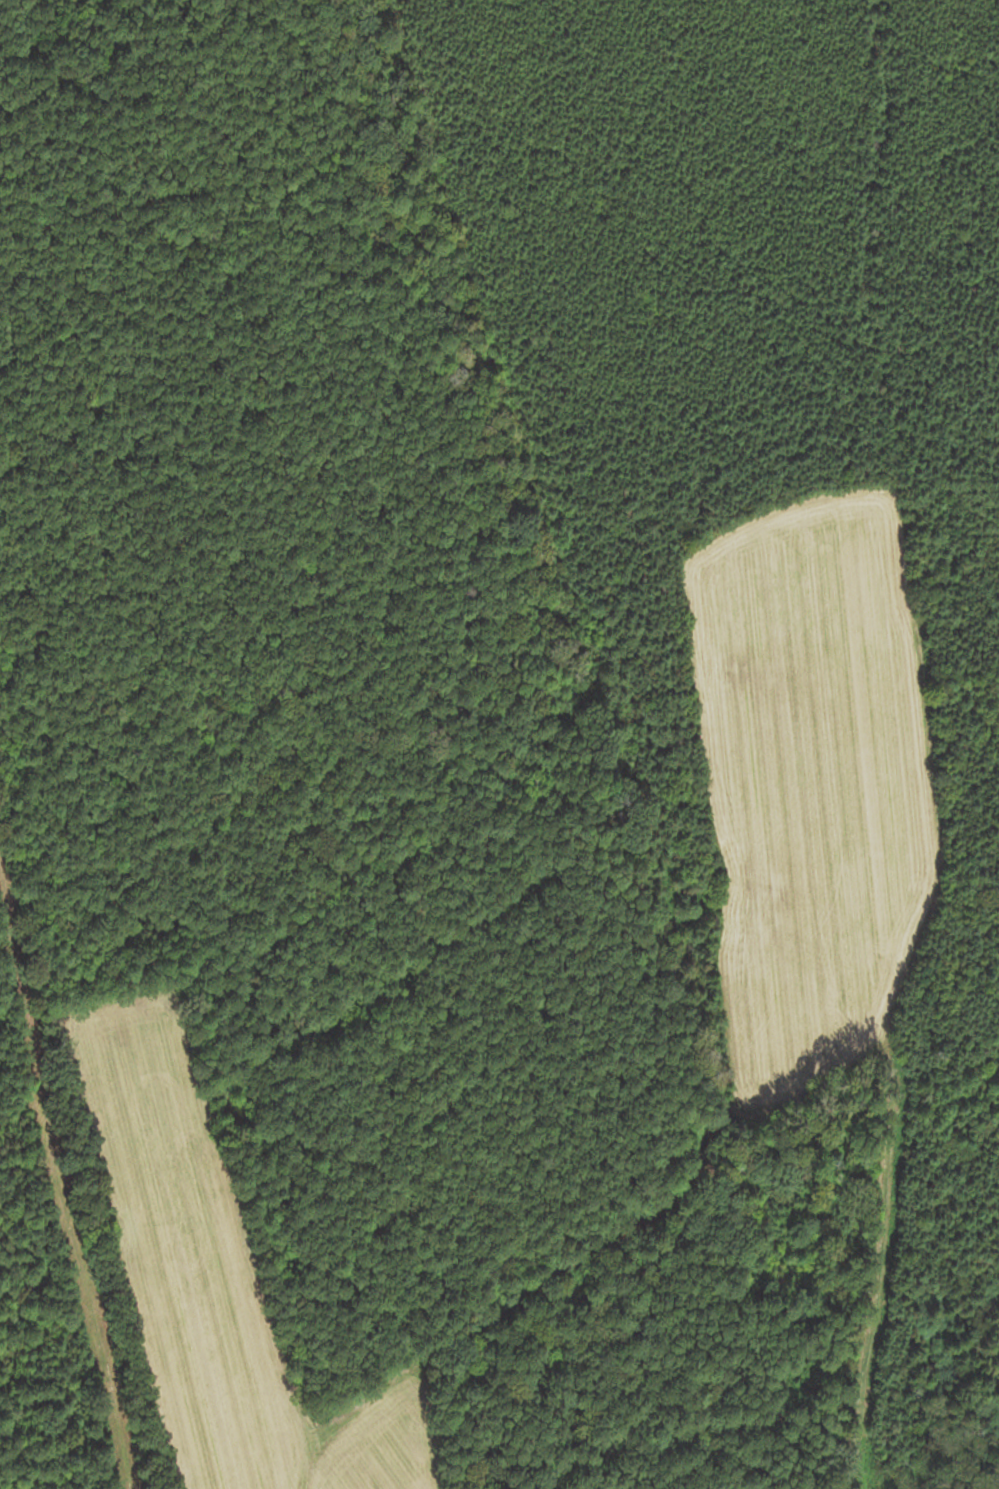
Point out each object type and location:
road: (46, 1321)

